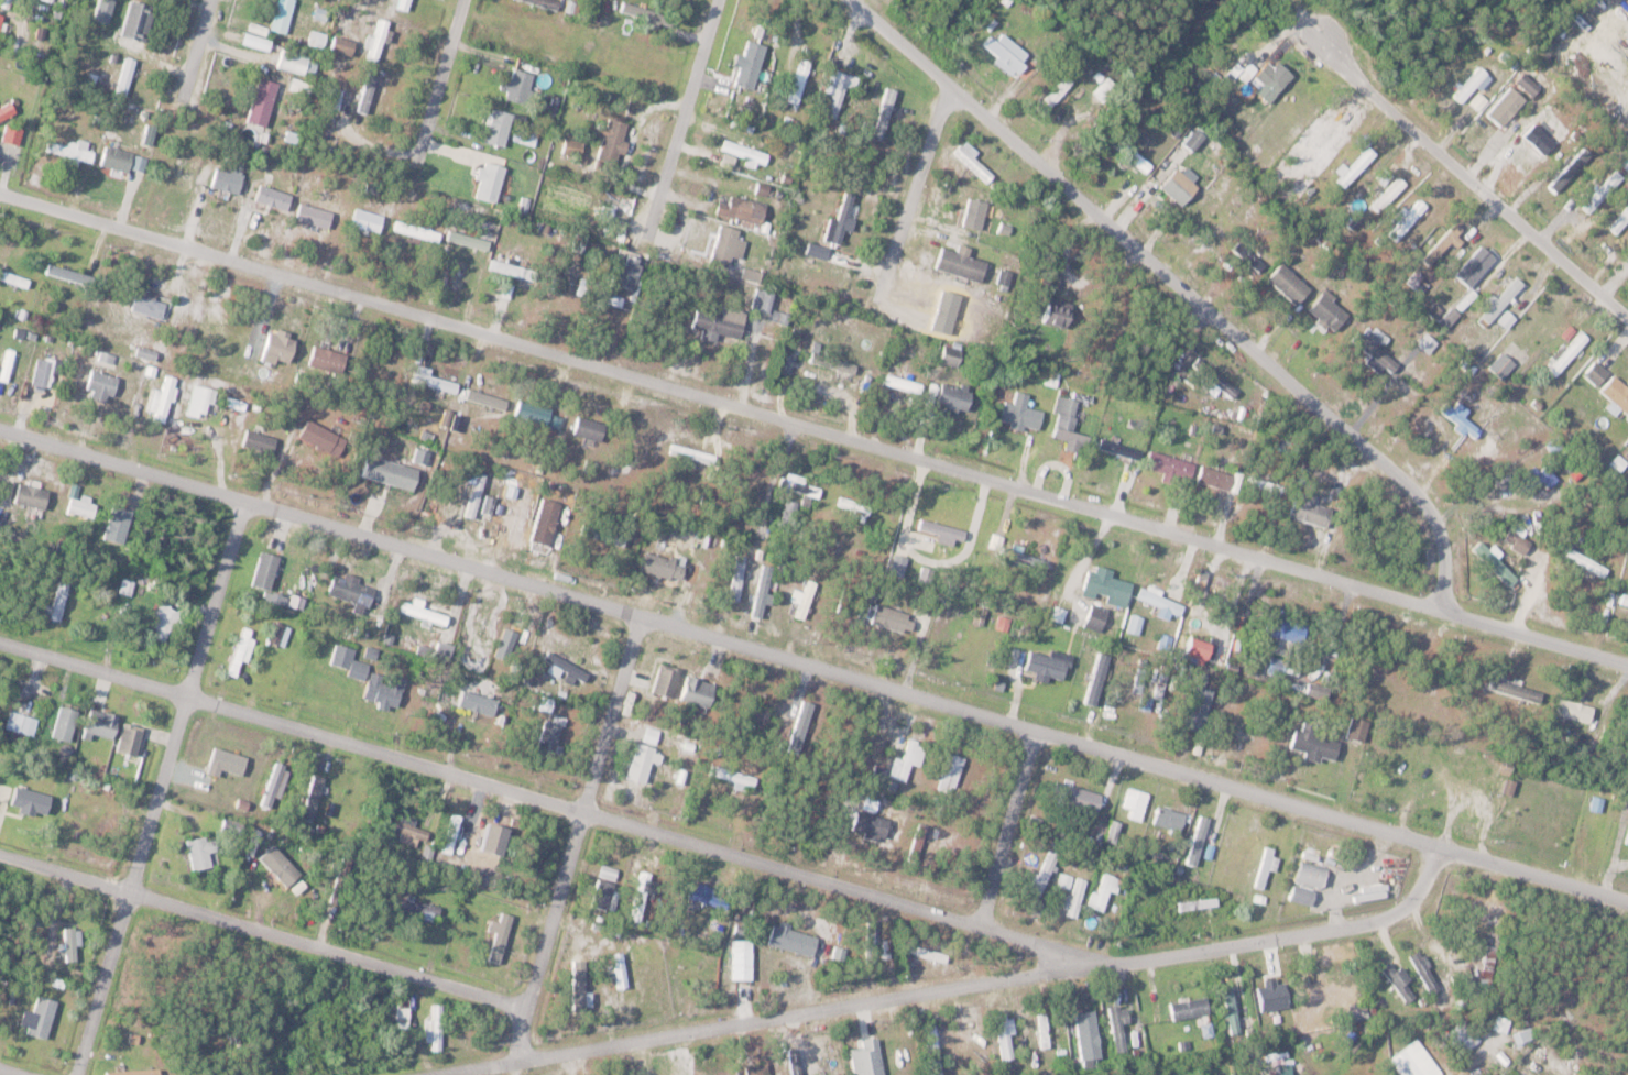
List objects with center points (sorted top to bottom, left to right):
building: (282, 14)
building: (0, 18)
building: (317, 37)
building: (378, 39)
building: (256, 41)
road: (196, 44)
building: (342, 46)
building: (1007, 52)
building: (297, 62)
building: (749, 64)
road: (440, 78)
building: (1271, 78)
building: (799, 79)
building: (301, 85)
building: (517, 85)
building: (1522, 86)
building: (838, 88)
building: (1106, 88)
building: (368, 90)
building: (1467, 90)
building: (1055, 95)
building: (336, 97)
building: (261, 99)
building: (1500, 108)
building: (7, 109)
road: (686, 112)
building: (884, 112)
building: (230, 127)
building: (498, 127)
building: (1194, 138)
building: (613, 139)
building: (69, 149)
building: (573, 149)
building: (744, 150)
building: (1130, 154)
building: (123, 160)
building: (972, 160)
building: (1353, 166)
building: (1565, 172)
building: (178, 176)
road: (1463, 178)
building: (227, 179)
building: (490, 180)
building: (1177, 185)
road: (915, 188)
building: (1389, 193)
building: (1598, 194)
building: (273, 196)
building: (742, 208)
building: (976, 212)
building: (315, 215)
building: (842, 217)
building: (368, 219)
building: (1408, 219)
building: (1618, 220)
building: (417, 230)
building: (470, 239)
building: (1442, 243)
building: (726, 244)
building: (817, 250)
building: (1252, 259)
building: (961, 262)
building: (1475, 265)
building: (629, 270)
building: (65, 273)
building: (13, 278)
building: (1418, 282)
road: (1180, 287)
building: (1287, 288)
building: (601, 293)
building: (763, 299)
building: (1500, 301)
building: (150, 305)
building: (1329, 310)
building: (1058, 311)
building: (779, 316)
building: (1450, 317)
building: (1507, 319)
building: (720, 321)
building: (25, 333)
building: (280, 347)
building: (1376, 351)
building: (146, 352)
building: (1567, 353)
building: (952, 354)
building: (328, 360)
building: (833, 362)
building: (7, 364)
building: (1501, 364)
building: (43, 371)
building: (1596, 372)
building: (1213, 377)
building: (434, 380)
building: (102, 382)
building: (1617, 391)
building: (954, 396)
building: (163, 399)
building: (487, 399)
building: (534, 412)
building: (1020, 412)
building: (1461, 418)
building: (1069, 424)
building: (590, 428)
road: (813, 429)
building: (260, 441)
building: (1119, 448)
building: (1169, 464)
building: (391, 471)
building: (1217, 476)
building: (37, 494)
building: (83, 506)
building: (853, 508)
building: (1311, 508)
building: (517, 515)
building: (547, 520)
building: (119, 524)
building: (1518, 539)
building: (1021, 559)
building: (1495, 561)
building: (1583, 561)
building: (663, 566)
building: (265, 570)
building: (737, 578)
building: (1107, 583)
building: (352, 590)
building: (1625, 599)
building: (61, 601)
building: (1160, 603)
building: (422, 610)
building: (1095, 616)
building: (892, 617)
building: (166, 619)
building: (1003, 623)
building: (1136, 623)
building: (1288, 626)
building: (477, 632)
building: (278, 634)
building: (507, 637)
building: (1200, 647)
building: (444, 650)
building: (241, 652)
building: (342, 656)
building: (1278, 665)
building: (1053, 666)
road: (813, 668)
building: (566, 670)
building: (667, 679)
building: (1318, 690)
building: (378, 691)
building: (699, 691)
building: (1522, 691)
building: (478, 702)
building: (1199, 707)
building: (1575, 709)
building: (57, 721)
building: (21, 723)
building: (102, 723)
building: (1236, 723)
building: (800, 725)
building: (1357, 728)
building: (551, 734)
building: (131, 738)
building: (1315, 743)
building: (908, 759)
building: (642, 761)
building: (952, 772)
building: (734, 776)
building: (47, 785)
building: (275, 785)
road: (157, 788)
building: (1083, 794)
road: (551, 802)
building: (1136, 802)
building: (1170, 818)
building: (871, 824)
road: (1006, 829)
building: (452, 833)
building: (919, 838)
road: (573, 840)
building: (1199, 840)
building: (1627, 841)
building: (201, 852)
building: (1266, 867)
building: (1045, 873)
building: (1066, 880)
building: (1308, 882)
building: (604, 886)
building: (1105, 890)
building: (702, 891)
building: (641, 897)
building: (1077, 897)
building: (1199, 903)
building: (480, 907)
building: (416, 908)
road: (264, 932)
building: (793, 939)
building: (72, 942)
building: (501, 943)
building: (742, 959)
building: (1488, 964)
building: (621, 969)
building: (1424, 970)
building: (581, 973)
building: (693, 975)
building: (1400, 980)
road: (960, 987)
building: (1337, 991)
building: (1231, 1009)
building: (1355, 1010)
building: (42, 1017)
building: (1501, 1023)
building: (1119, 1025)
building: (437, 1027)
building: (1045, 1029)
building: (1005, 1030)
building: (1465, 1035)
building: (1523, 1035)
building: (1089, 1036)
building: (971, 1043)
building: (935, 1049)
building: (867, 1057)
building: (796, 1061)
building: (1414, 1061)
building: (755, 1069)
building: (133, 1072)
building: (677, 1073)
road: (3, 1074)
building: (1300, 1074)

